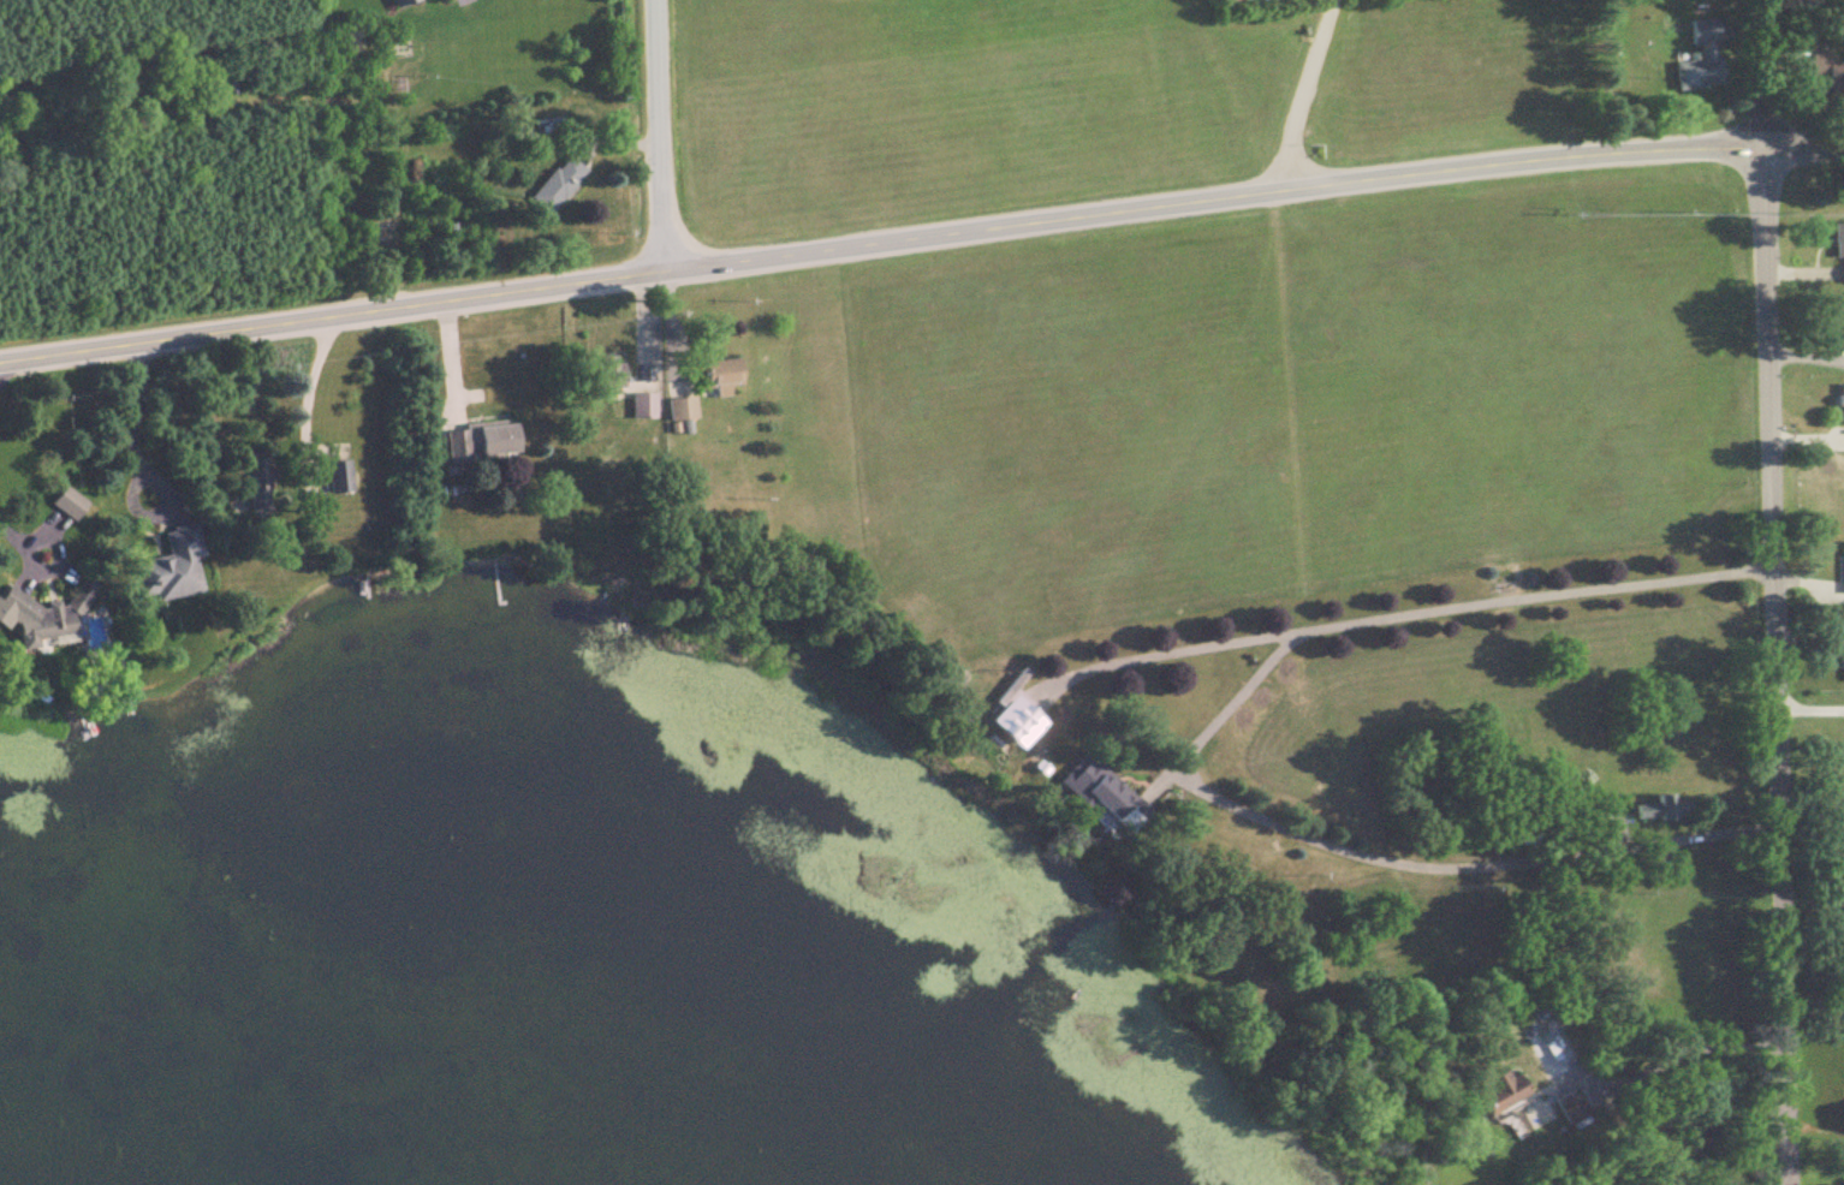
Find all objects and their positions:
building: (1707, 54)
building: (1826, 72)
road: (1763, 75)
road: (1304, 97)
road: (658, 138)
road: (1806, 150)
building: (559, 186)
road: (882, 249)
building: (1838, 249)
building: (1839, 339)
road: (1, 367)
building: (724, 375)
building: (609, 376)
road: (307, 399)
building: (1840, 406)
building: (643, 409)
building: (683, 411)
road: (135, 433)
building: (483, 445)
building: (341, 480)
building: (261, 488)
building: (72, 504)
road: (14, 542)
building: (177, 566)
building: (1842, 568)
road: (1438, 615)
building: (47, 618)
road: (1774, 667)
building: (1842, 668)
road: (1226, 708)
road: (1810, 709)
building: (1003, 731)
building: (1659, 808)
building: (1106, 809)
building: (1588, 821)
road: (1456, 873)
road: (1695, 1049)
building: (1497, 1091)
building: (1566, 1106)

